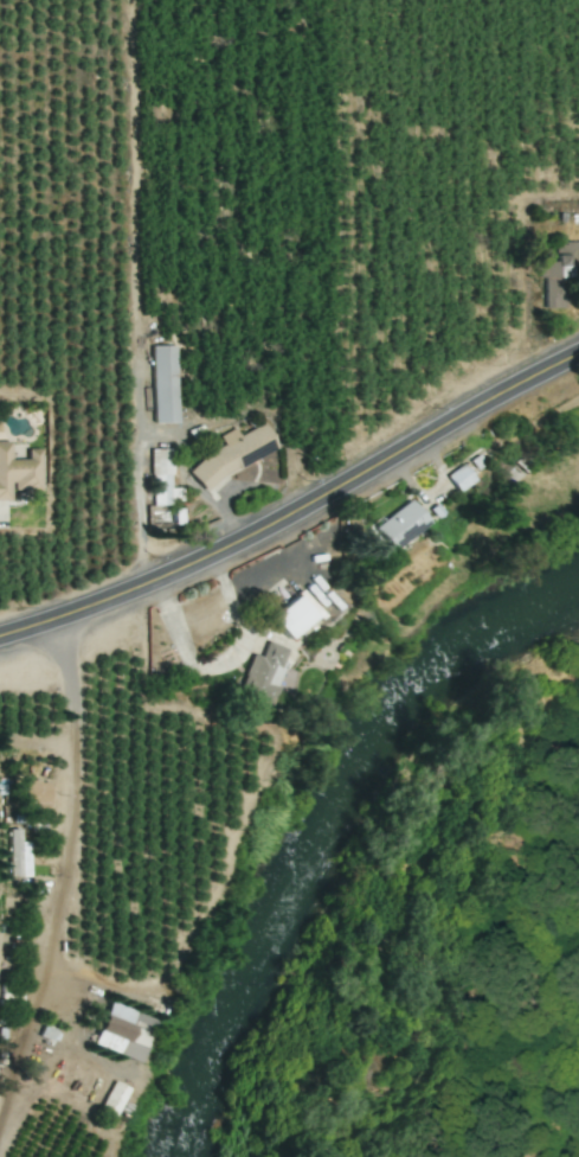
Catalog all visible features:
building: (558, 276)
building: (165, 383)
building: (234, 454)
building: (18, 472)
road: (137, 477)
building: (459, 477)
building: (162, 478)
road: (296, 513)
building: (400, 524)
road: (284, 574)
building: (292, 616)
road: (224, 663)
building: (36, 791)
road: (65, 798)
river: (319, 818)
building: (18, 855)
crop: (426, 947)
building: (122, 1031)
building: (111, 1100)

